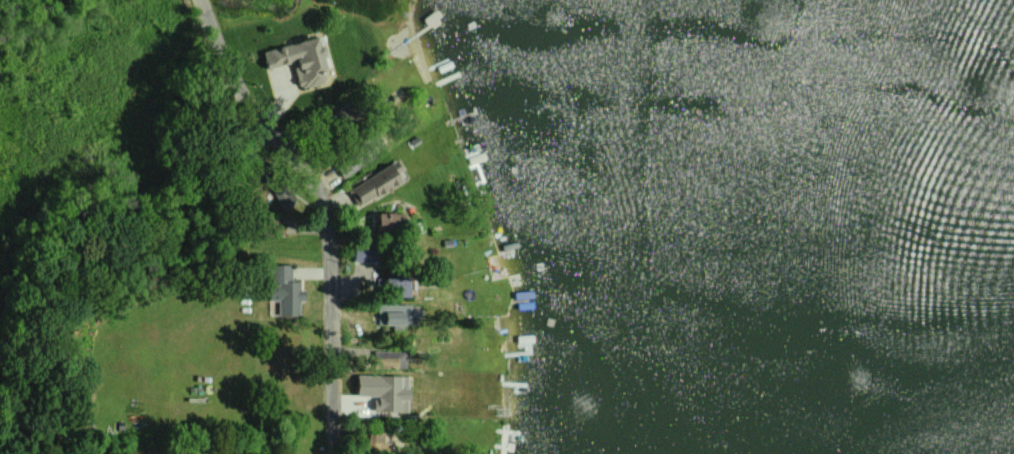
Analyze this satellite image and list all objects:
building: (299, 60)
building: (376, 183)
road: (324, 208)
building: (283, 210)
building: (389, 221)
building: (366, 255)
building: (396, 288)
building: (284, 290)
building: (392, 315)
building: (387, 359)
building: (384, 392)
building: (377, 443)

